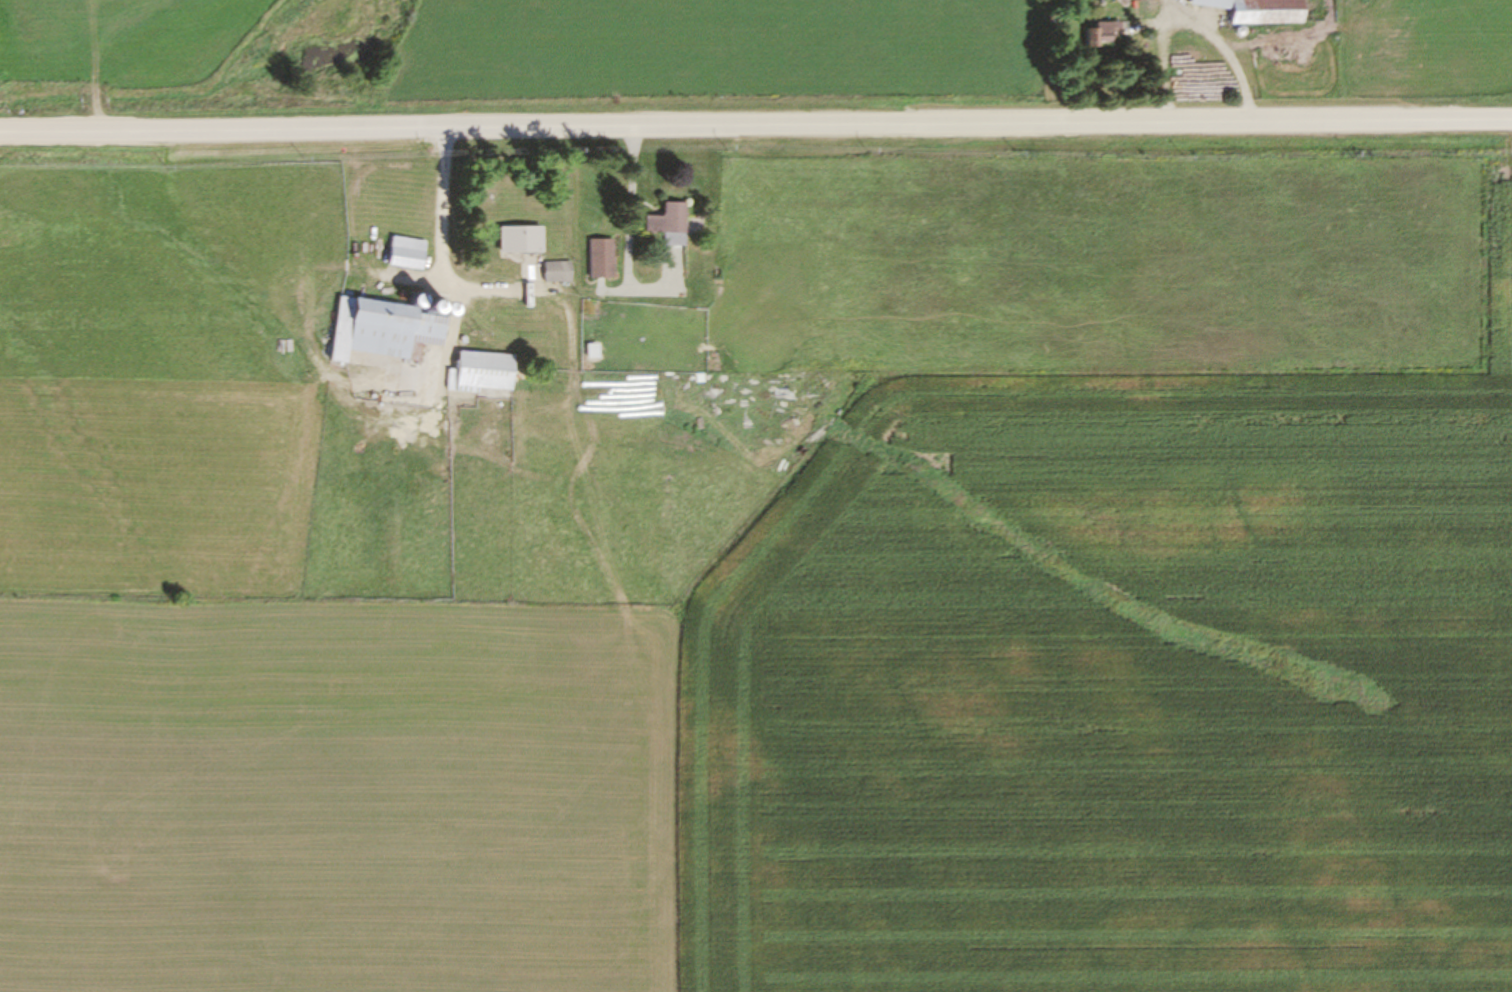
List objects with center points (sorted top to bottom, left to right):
building: (1254, 11)
building: (1097, 35)
road: (755, 125)
building: (662, 224)
building: (513, 240)
road: (438, 252)
building: (401, 253)
building: (595, 259)
building: (551, 272)
building: (381, 328)
building: (478, 372)

